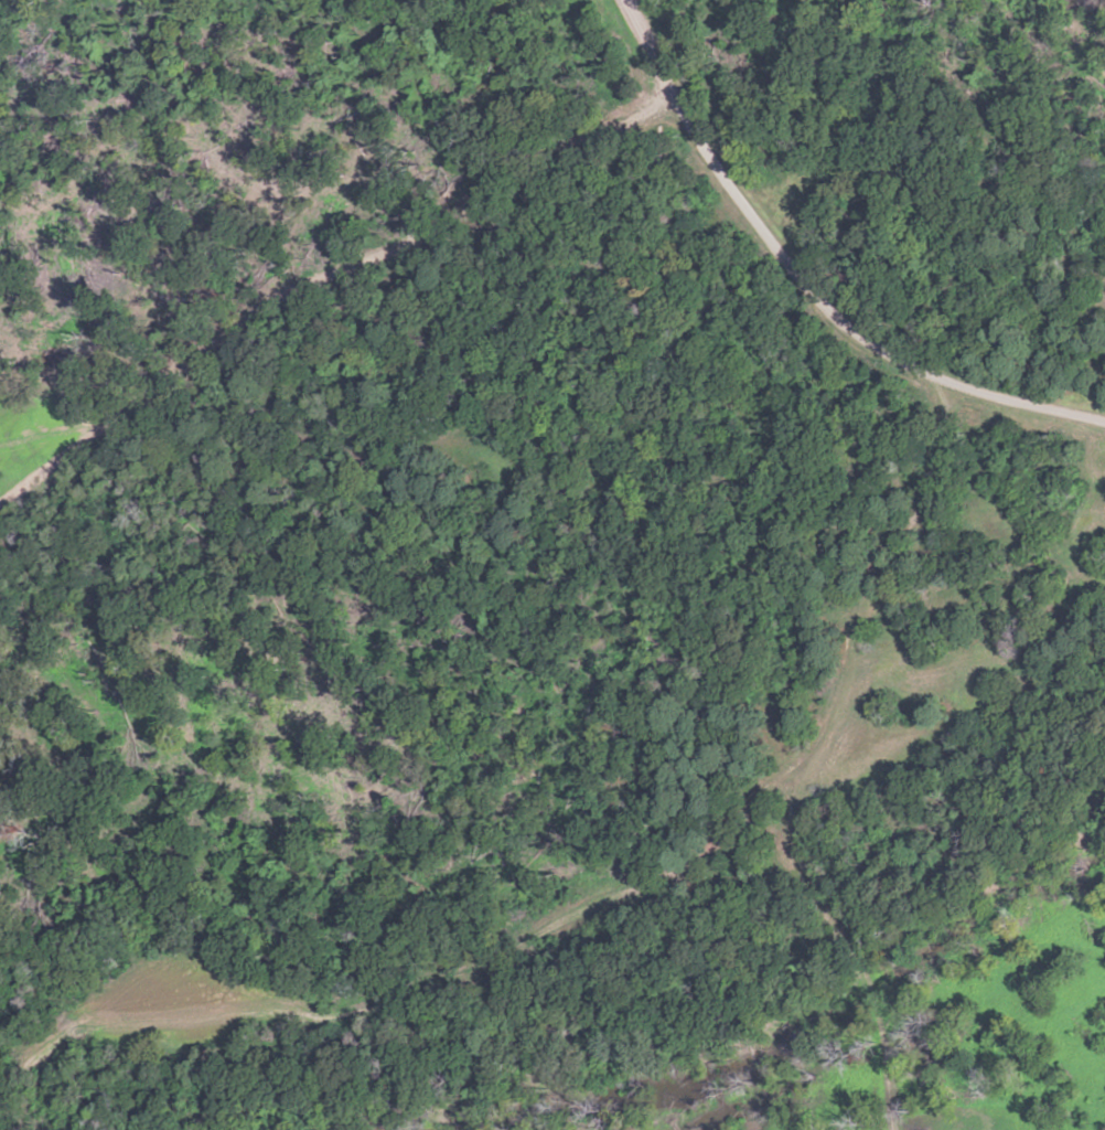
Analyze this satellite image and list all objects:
road: (806, 278)

